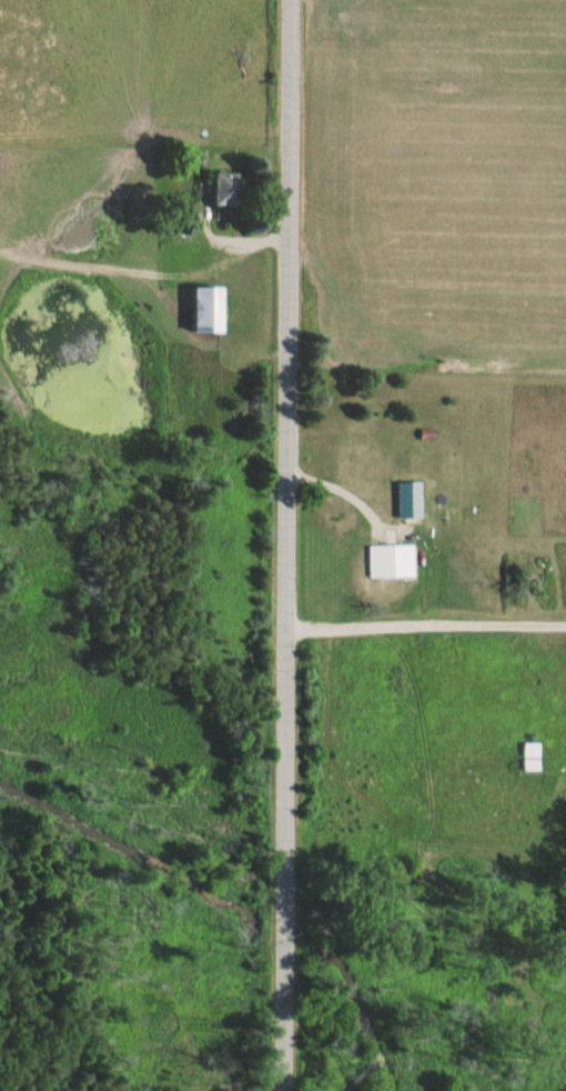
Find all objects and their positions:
building: (229, 187)
building: (215, 308)
building: (413, 498)
road: (284, 545)
building: (394, 560)
road: (424, 625)
building: (524, 757)

